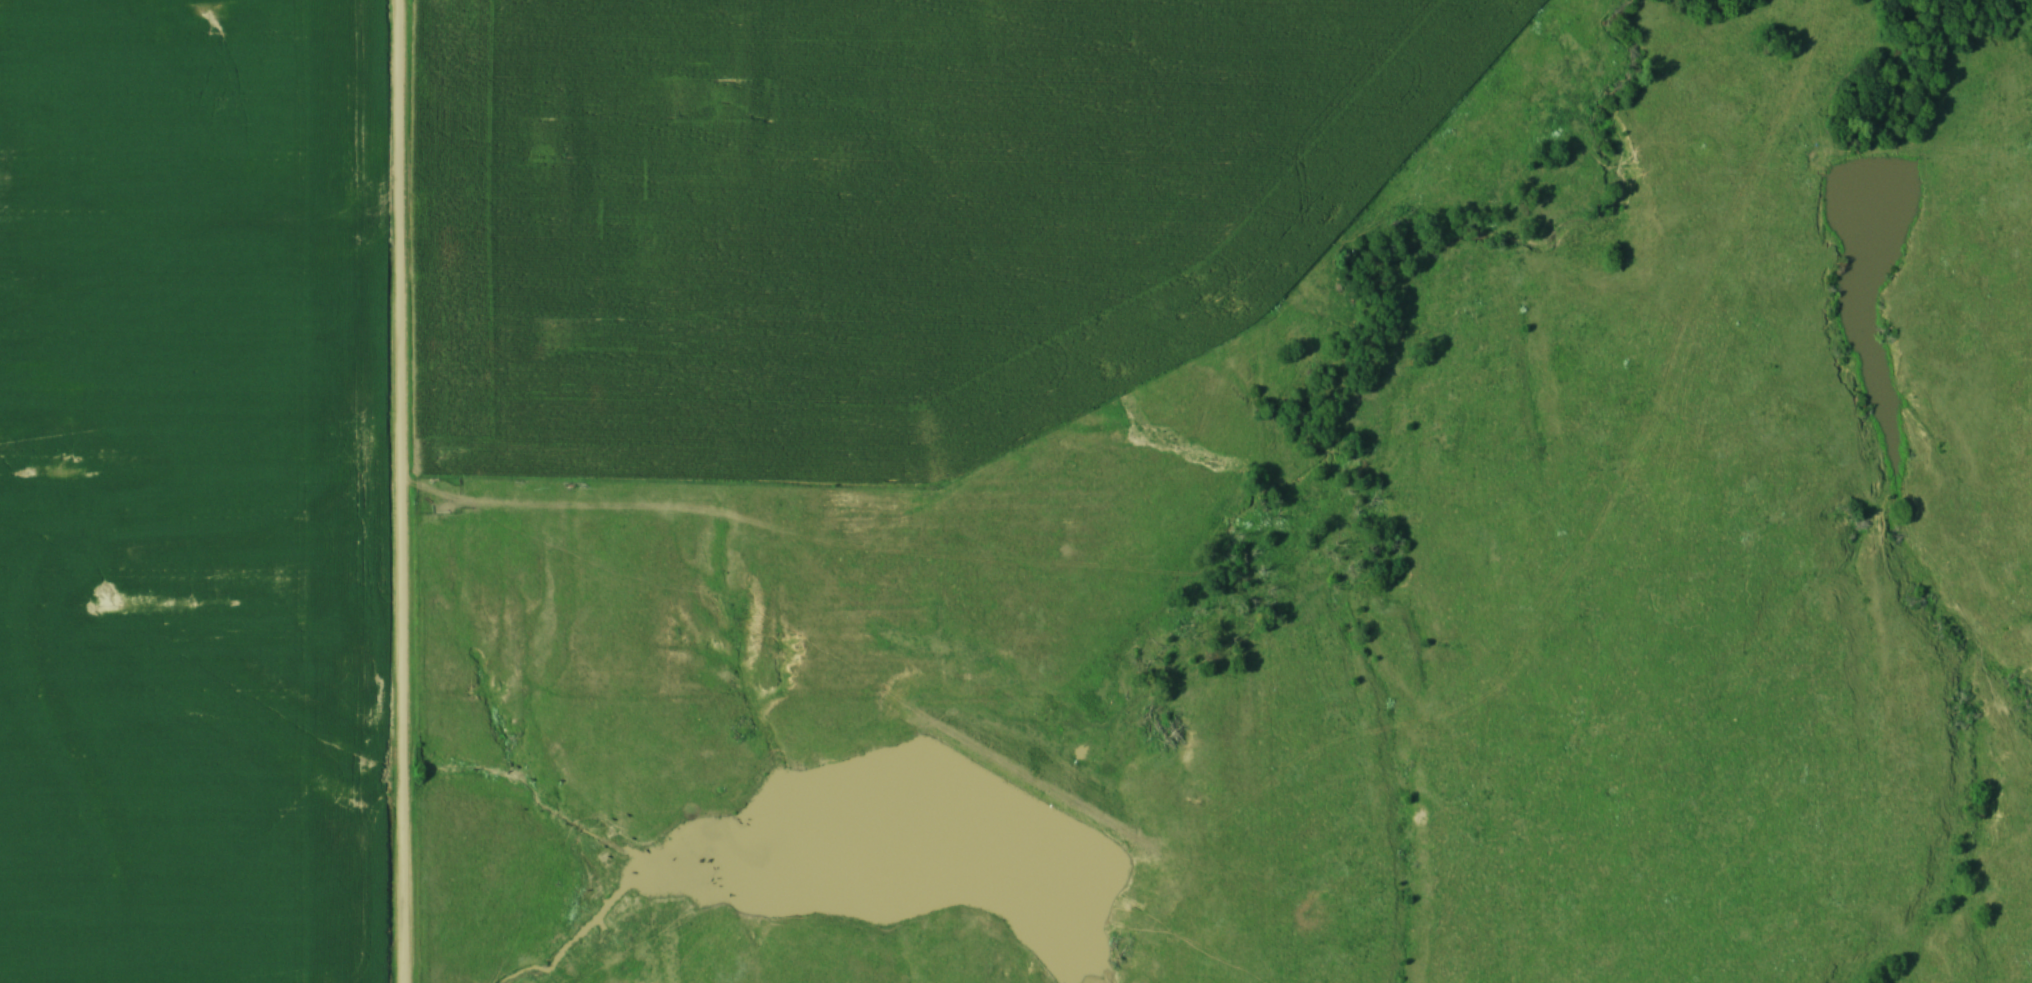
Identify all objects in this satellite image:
road: (283, 260)
road: (397, 491)

